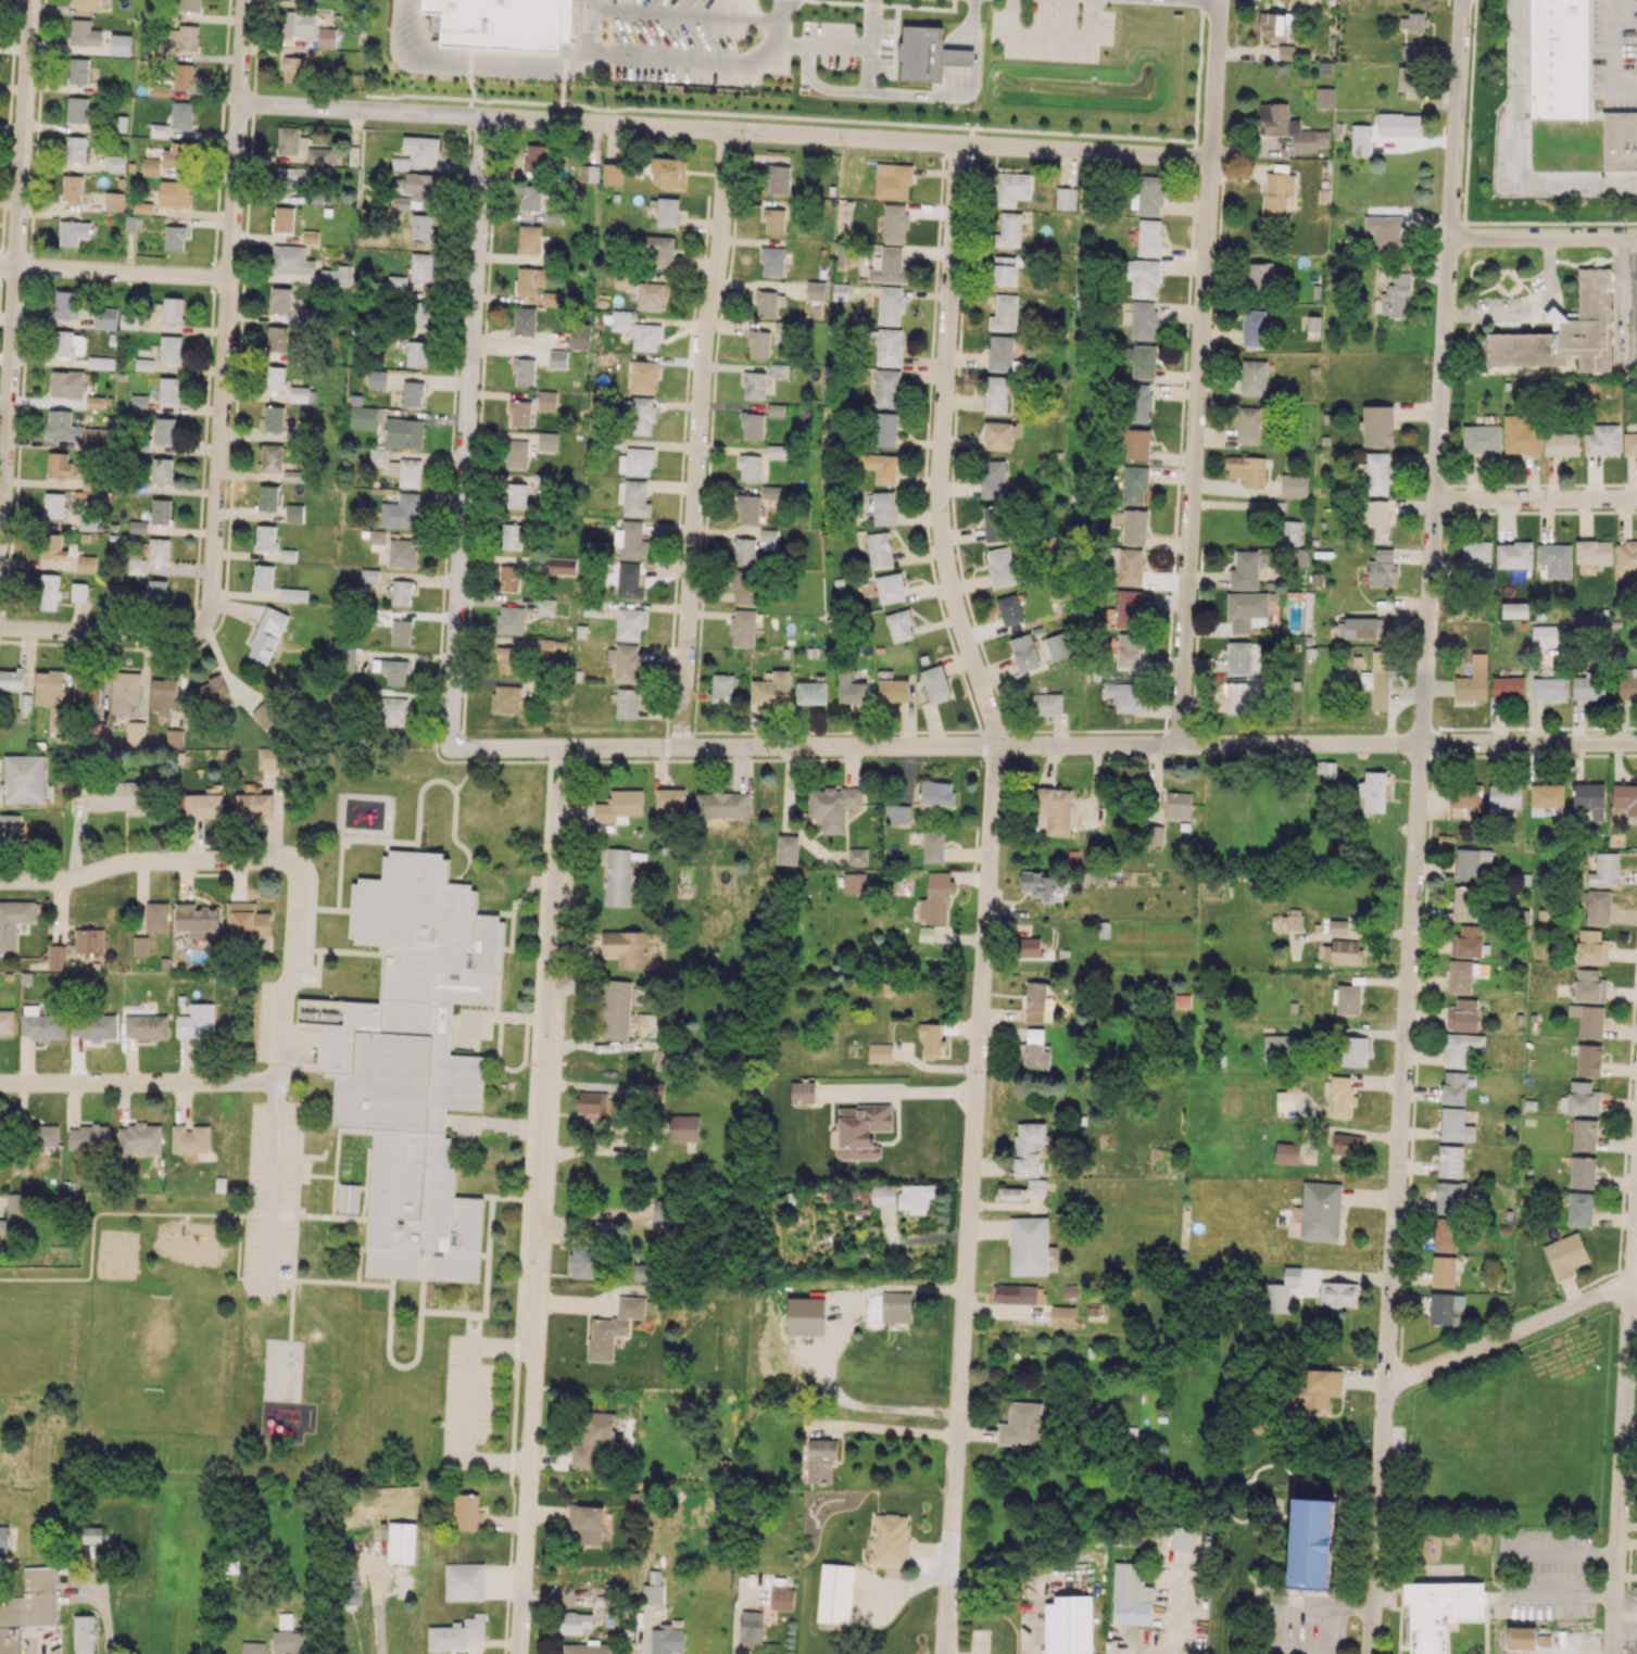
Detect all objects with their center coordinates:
road: (953, 3)
building: (84, 7)
road: (684, 12)
building: (299, 24)
building: (502, 24)
road: (968, 24)
building: (1271, 24)
building: (84, 33)
building: (184, 37)
building: (326, 37)
road: (844, 41)
building: (119, 43)
building: (1286, 52)
building: (927, 53)
road: (1611, 54)
road: (967, 56)
building: (1559, 59)
road: (500, 62)
road: (706, 62)
road: (867, 66)
building: (293, 68)
building: (78, 70)
building: (185, 75)
road: (562, 77)
road: (467, 79)
building: (1409, 80)
building: (160, 90)
road: (878, 90)
building: (1325, 97)
building: (77, 109)
building: (181, 114)
building: (1399, 124)
building: (1289, 128)
road: (725, 129)
building: (160, 130)
building: (1360, 139)
building: (1620, 141)
building: (301, 147)
building: (75, 148)
road: (1511, 149)
building: (421, 150)
building: (175, 155)
building: (537, 156)
building: (116, 163)
building: (400, 163)
building: (151, 166)
building: (670, 172)
building: (588, 173)
building: (612, 174)
building: (290, 176)
building: (778, 178)
building: (892, 180)
building: (420, 185)
building: (72, 187)
building: (1011, 188)
building: (174, 193)
building: (1147, 194)
building: (1276, 194)
building: (530, 198)
building: (1066, 198)
building: (113, 201)
building: (402, 203)
building: (142, 207)
building: (667, 212)
building: (282, 218)
building: (775, 220)
building: (894, 223)
building: (420, 227)
building: (1009, 230)
building: (73, 231)
building: (1385, 231)
building: (310, 237)
building: (1148, 237)
road: (1542, 237)
building: (175, 238)
building: (528, 238)
building: (656, 250)
road: (15, 260)
building: (291, 260)
building: (772, 261)
building: (421, 266)
building: (887, 266)
building: (1004, 270)
road: (114, 272)
building: (336, 275)
building: (1259, 275)
building: (1141, 277)
building: (529, 280)
building: (622, 280)
building: (1636, 281)
building: (815, 291)
building: (840, 291)
building: (1396, 294)
building: (650, 296)
building: (550, 299)
road: (1636, 300)
building: (768, 303)
building: (65, 304)
building: (288, 304)
building: (890, 305)
building: (172, 310)
building: (1004, 313)
road: (1531, 313)
road: (227, 314)
building: (418, 314)
building: (105, 317)
building: (1143, 319)
building: (129, 320)
building: (524, 320)
building: (622, 320)
building: (1252, 327)
building: (1564, 332)
building: (576, 336)
building: (645, 337)
building: (277, 338)
building: (68, 343)
building: (758, 343)
building: (887, 346)
building: (169, 349)
building: (416, 353)
building: (1000, 353)
building: (557, 358)
building: (1142, 359)
building: (100, 363)
building: (143, 364)
road: (1636, 364)
building: (524, 370)
building: (779, 370)
road: (1198, 373)
building: (643, 376)
building: (1252, 377)
building: (275, 378)
building: (377, 379)
building: (66, 383)
building: (754, 384)
building: (885, 388)
building: (167, 389)
building: (412, 393)
building: (302, 394)
building: (996, 394)
building: (546, 400)
building: (95, 402)
building: (139, 402)
building: (1138, 402)
building: (520, 413)
building: (642, 415)
building: (363, 417)
building: (274, 418)
building: (1248, 425)
building: (1377, 425)
building: (61, 426)
building: (752, 426)
building: (884, 429)
building: (164, 430)
road: (466, 430)
building: (403, 432)
building: (1521, 433)
building: (1000, 434)
building: (96, 437)
road: (697, 438)
building: (1482, 439)
building: (1602, 440)
building: (547, 441)
building: (1135, 442)
building: (1629, 443)
building: (1561, 444)
building: (777, 451)
building: (516, 454)
building: (270, 457)
building: (635, 462)
building: (59, 464)
building: (396, 467)
building: (750, 467)
building: (881, 467)
building: (1246, 469)
building: (162, 470)
building: (1377, 472)
building: (294, 476)
building: (993, 479)
building: (1133, 484)
building: (1294, 485)
building: (773, 492)
building: (516, 495)
building: (266, 497)
building: (635, 498)
road: (1536, 498)
building: (53, 505)
building: (748, 508)
building: (883, 508)
building: (161, 510)
building: (401, 510)
building: (293, 513)
building: (1377, 521)
building: (90, 522)
building: (995, 522)
building: (1134, 526)
building: (1290, 530)
building: (512, 536)
building: (266, 538)
building: (767, 539)
building: (376, 540)
building: (631, 540)
building: (52, 546)
building: (879, 548)
building: (159, 551)
building: (744, 551)
building: (1594, 552)
building: (401, 553)
building: (1475, 554)
building: (287, 555)
building: (1513, 555)
building: (1626, 557)
building: (1556, 559)
building: (85, 563)
building: (136, 566)
building: (562, 566)
building: (1002, 566)
building: (1130, 567)
building: (1382, 568)
building: (1245, 570)
building: (369, 576)
building: (263, 577)
building: (508, 578)
building: (629, 581)
building: (744, 585)
building: (890, 588)
building: (155, 589)
building: (48, 592)
building: (78, 592)
building: (400, 592)
building: (293, 594)
building: (545, 607)
building: (592, 608)
building: (1129, 608)
building: (1010, 609)
building: (1515, 609)
building: (1246, 610)
building: (509, 619)
building: (629, 624)
building: (899, 626)
building: (742, 628)
building: (1360, 628)
road: (101, 631)
building: (401, 632)
building: (266, 634)
building: (1544, 635)
building: (1058, 645)
building: (550, 646)
building: (1129, 651)
building: (1024, 653)
building: (345, 657)
building: (1239, 657)
building: (506, 659)
building: (624, 661)
building: (391, 670)
building: (11, 679)
building: (1377, 680)
building: (1473, 680)
building: (935, 683)
building: (1625, 683)
building: (127, 686)
building: (1588, 686)
building: (49, 687)
building: (721, 687)
building: (1508, 687)
building: (1548, 687)
building: (86, 689)
building: (212, 689)
building: (772, 689)
building: (852, 689)
building: (893, 690)
building: (810, 692)
building: (162, 695)
building: (1121, 695)
building: (1239, 696)
building: (506, 698)
building: (627, 704)
building: (1047, 704)
building: (392, 711)
building: (58, 719)
building: (268, 720)
building: (174, 737)
road: (1045, 745)
building: (269, 758)
building: (1325, 768)
building: (23, 779)
building: (1373, 791)
building: (937, 792)
building: (118, 796)
building: (1503, 796)
building: (1545, 797)
building: (1590, 798)
building: (670, 799)
building: (1626, 799)
building: (1464, 803)
building: (253, 804)
building: (721, 804)
building: (1178, 805)
building: (619, 806)
building: (833, 806)
building: (1054, 809)
building: (896, 813)
building: (10, 826)
road: (1416, 826)
building: (1155, 835)
building: (932, 846)
building: (788, 849)
building: (857, 856)
road: (138, 860)
building: (1470, 862)
building: (1604, 869)
building: (617, 876)
building: (854, 883)
building: (1042, 885)
road: (986, 895)
building: (935, 897)
building: (1464, 901)
building: (1596, 906)
building: (156, 916)
building: (198, 919)
building: (1294, 919)
building: (248, 921)
building: (13, 922)
building: (1337, 926)
building: (925, 933)
building: (89, 940)
building: (1466, 942)
building: (140, 945)
building: (1591, 946)
building: (1029, 947)
building: (627, 948)
building: (1343, 951)
building: (56, 957)
road: (294, 967)
building: (1460, 976)
building: (1589, 986)
building: (1348, 999)
building: (1035, 1000)
building: (619, 1011)
building: (1463, 1014)
building: (1588, 1020)
building: (197, 1021)
building: (7, 1022)
building: (41, 1024)
building: (93, 1026)
building: (146, 1026)
building: (931, 1039)
building: (1279, 1045)
building: (1461, 1048)
building: (1034, 1050)
building: (1352, 1051)
building: (880, 1052)
building: (1588, 1059)
building: (664, 1060)
building: (412, 1061)
road: (137, 1083)
building: (1453, 1087)
building: (803, 1093)
building: (1342, 1097)
building: (1582, 1098)
building: (1284, 1099)
building: (592, 1102)
building: (1455, 1125)
building: (682, 1127)
building: (859, 1131)
building: (46, 1134)
building: (1584, 1134)
building: (89, 1136)
building: (139, 1138)
building: (190, 1138)
building: (1349, 1145)
building: (1028, 1148)
building: (1286, 1152)
building: (1450, 1161)
building: (1582, 1172)
road: (268, 1179)
building: (1011, 1194)
building: (883, 1196)
building: (915, 1197)
building: (349, 1198)
building: (1450, 1198)
road: (544, 1200)
building: (15, 1202)
building: (1579, 1209)
building: (662, 1210)
building: (1320, 1211)
building: (2, 1226)
building: (1446, 1234)
building: (1029, 1246)
building: (1565, 1255)
building: (582, 1261)
building: (644, 1272)
building: (1444, 1272)
building: (1282, 1290)
building: (1015, 1293)
building: (1338, 1293)
building: (1459, 1304)
building: (893, 1305)
building: (1443, 1309)
building: (805, 1315)
building: (1062, 1316)
building: (613, 1327)
road: (1512, 1331)
building: (1318, 1388)
building: (1021, 1424)
road: (896, 1428)
road: (1623, 1432)
building: (594, 1437)
building: (821, 1461)
building: (466, 1512)
building: (587, 1523)
building: (91, 1535)
building: (3, 1538)
building: (1181, 1538)
building: (890, 1539)
building: (401, 1542)
building: (1310, 1543)
road: (1506, 1570)
building: (350, 1573)
building: (464, 1581)
building: (652, 1593)
building: (834, 1593)
building: (1130, 1595)
building: (781, 1599)
road: (1323, 1605)
building: (27, 1607)
road: (378, 1611)
building: (1438, 1611)
road: (1170, 1615)
building: (574, 1621)
building: (1068, 1625)
building: (751, 1626)
building: (455, 1633)
building: (84, 1634)
building: (1525, 1638)
building: (666, 1640)
building: (289, 1641)
building: (252, 1647)
building: (589, 1649)

